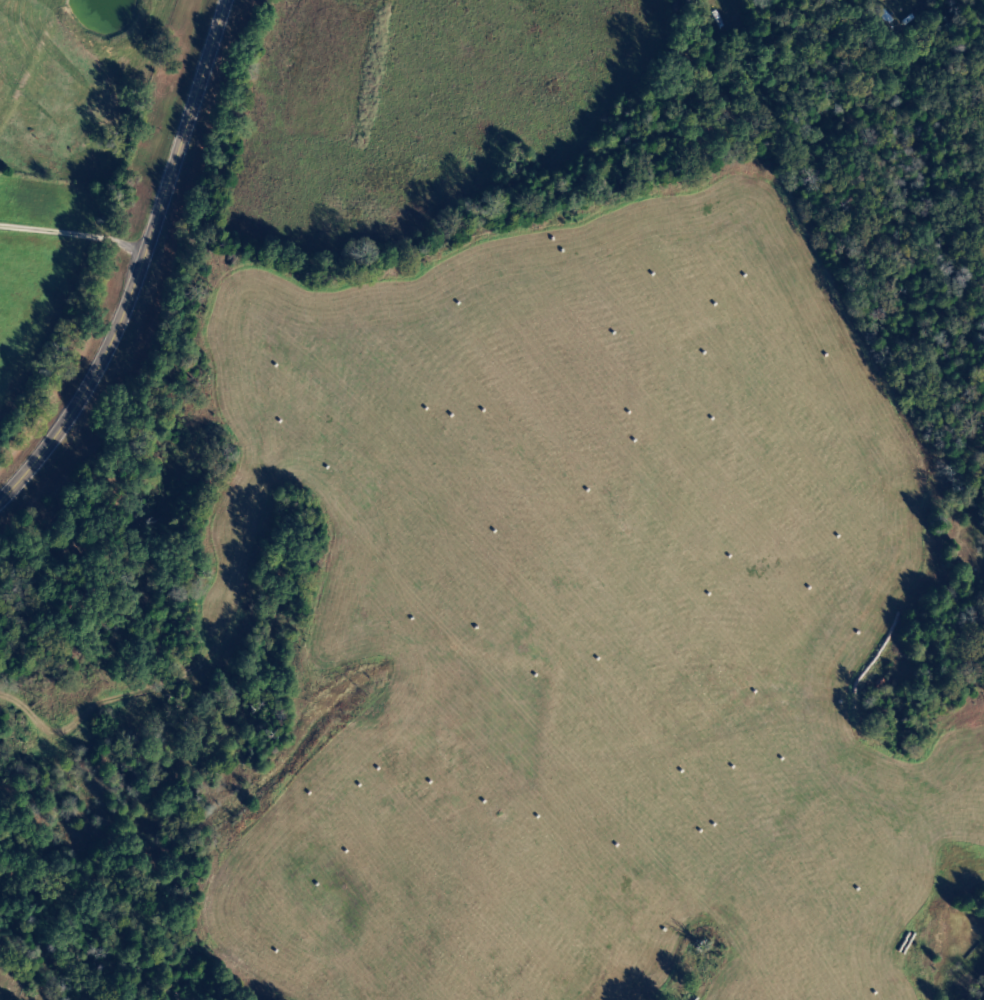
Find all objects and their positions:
road: (139, 263)
road: (473, 690)
park: (11, 983)

